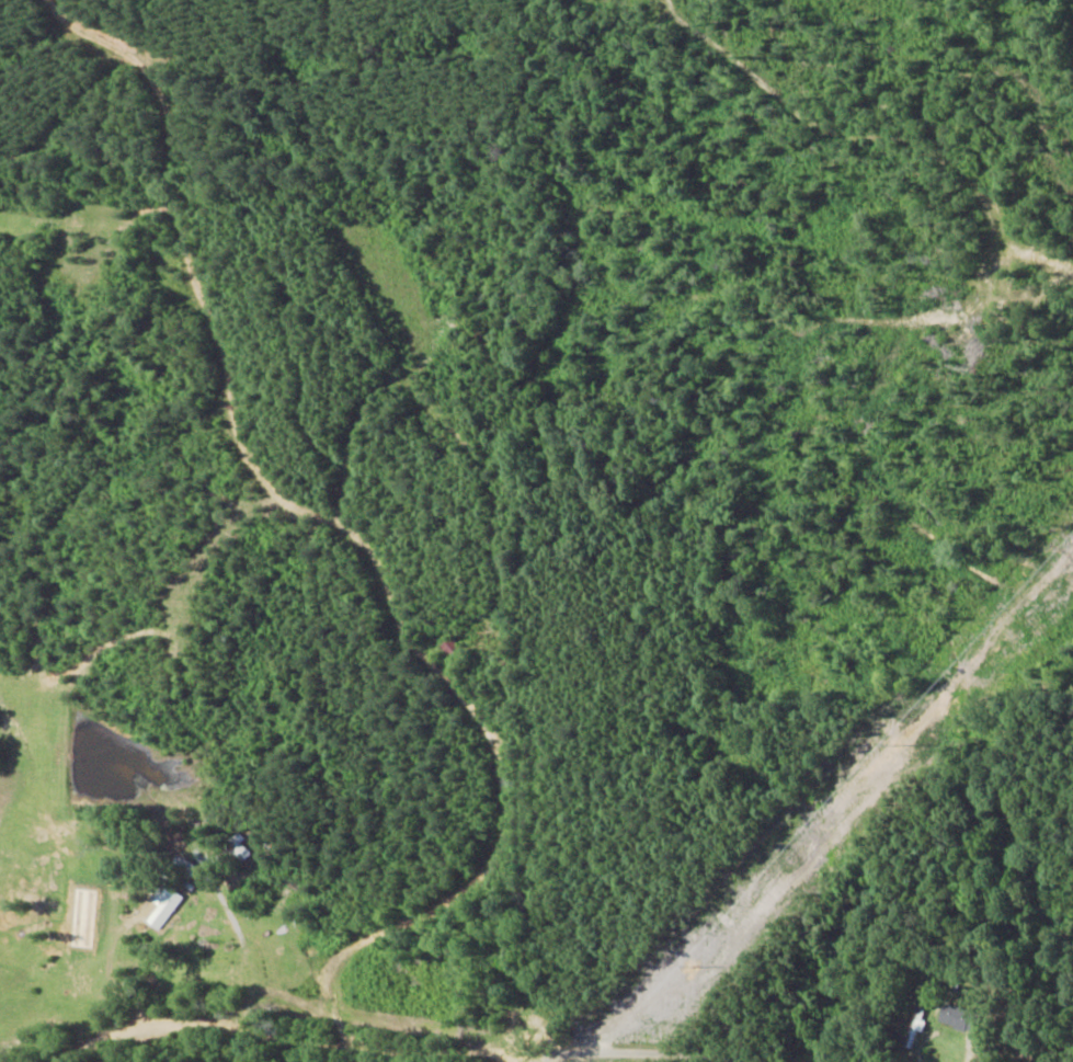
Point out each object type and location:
road: (644, 729)
road: (624, 802)
building: (178, 869)
road: (892, 992)
building: (949, 1016)
building: (914, 1027)

